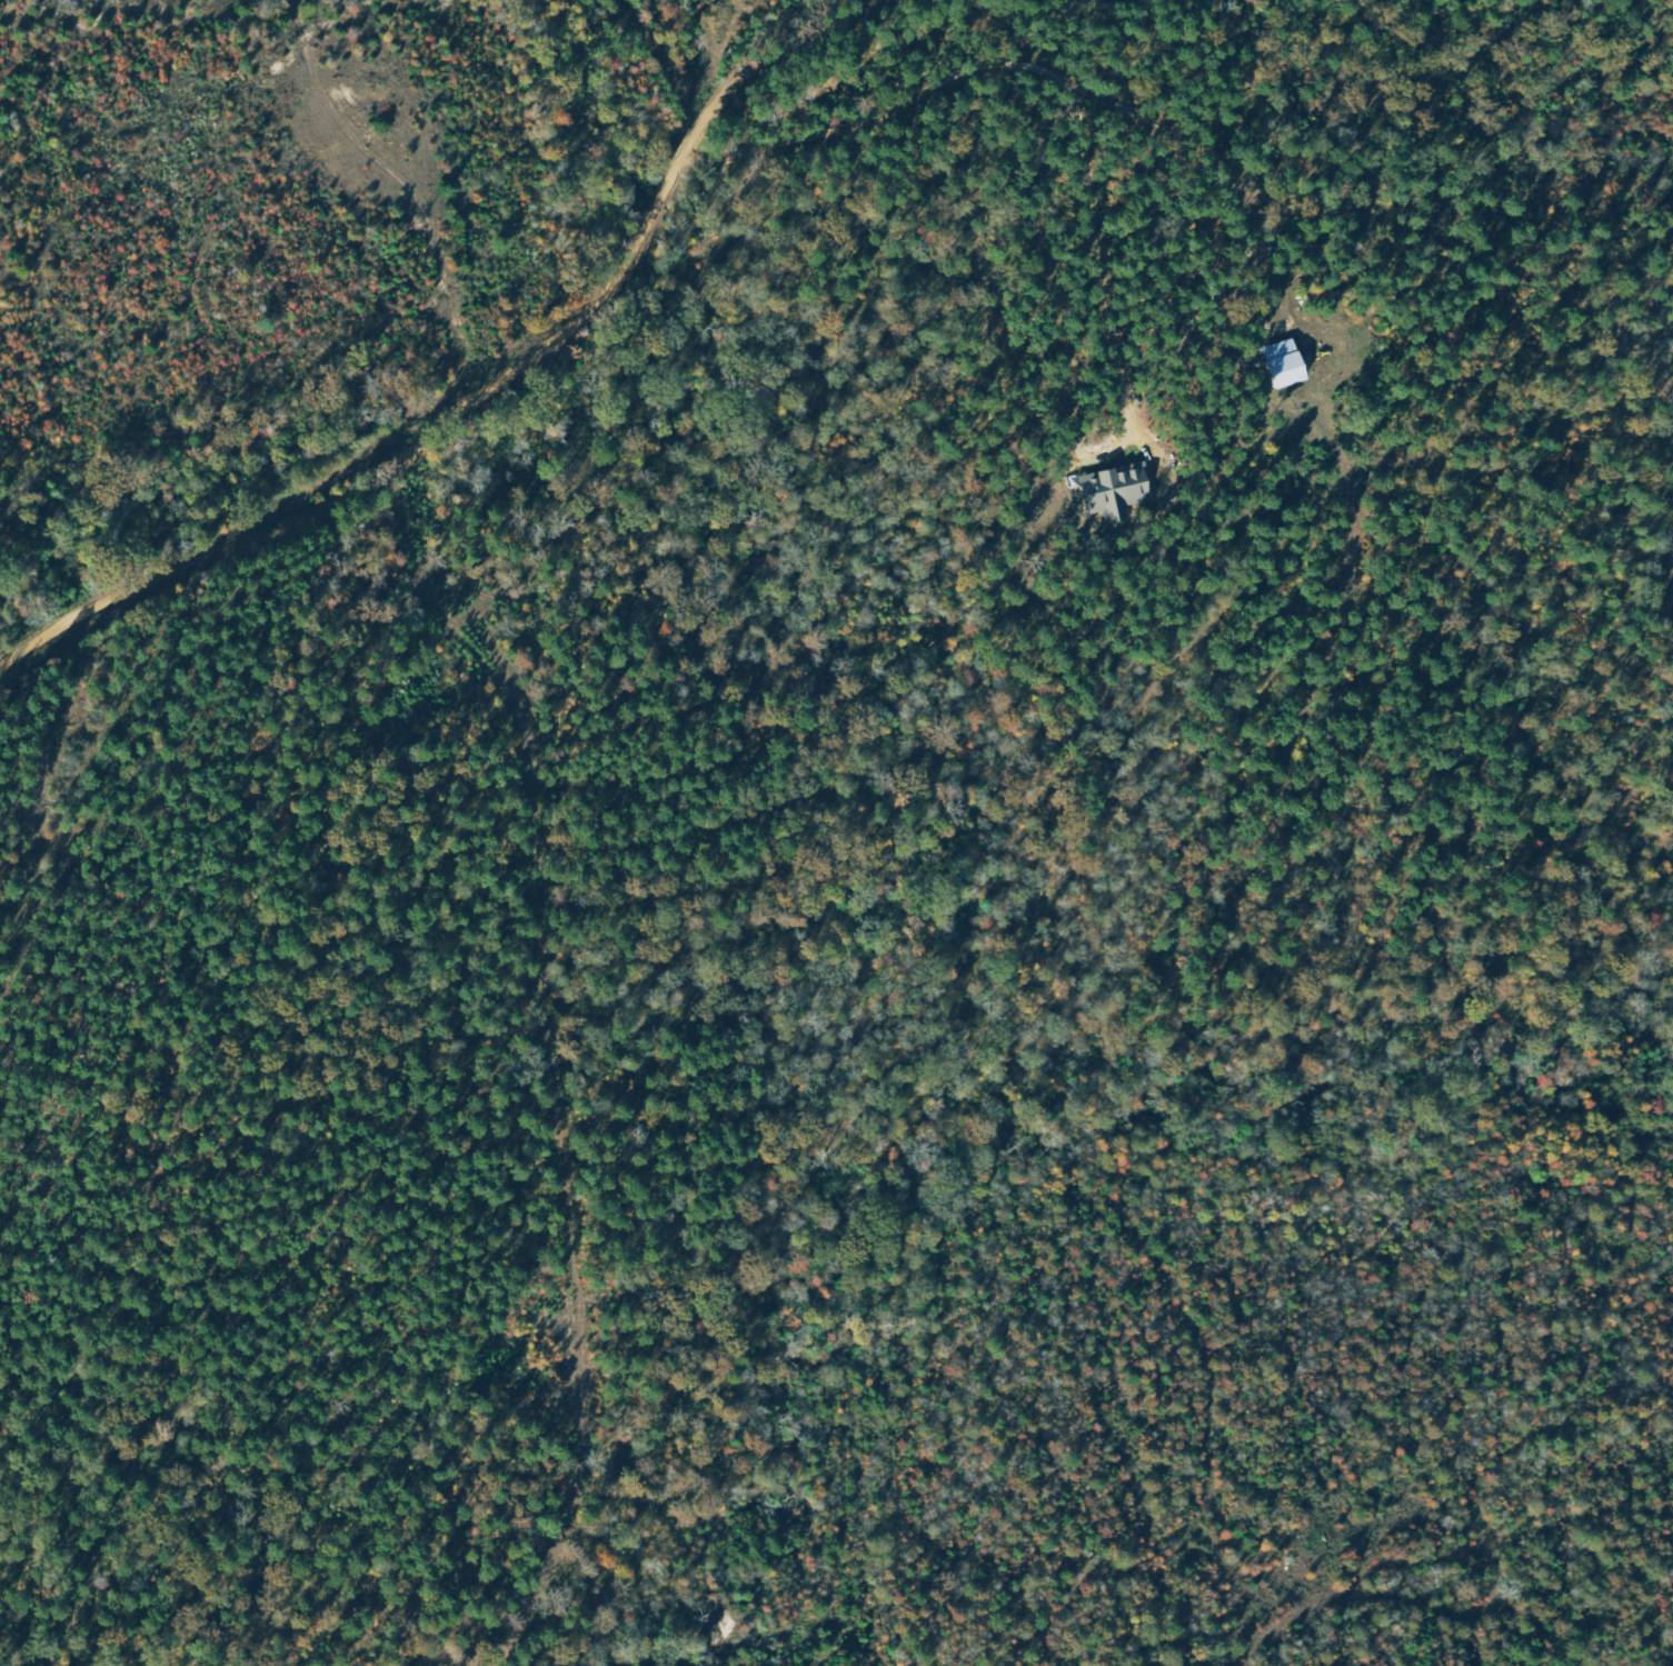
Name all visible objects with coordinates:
building: (1289, 363)
road: (514, 368)
building: (1119, 491)

